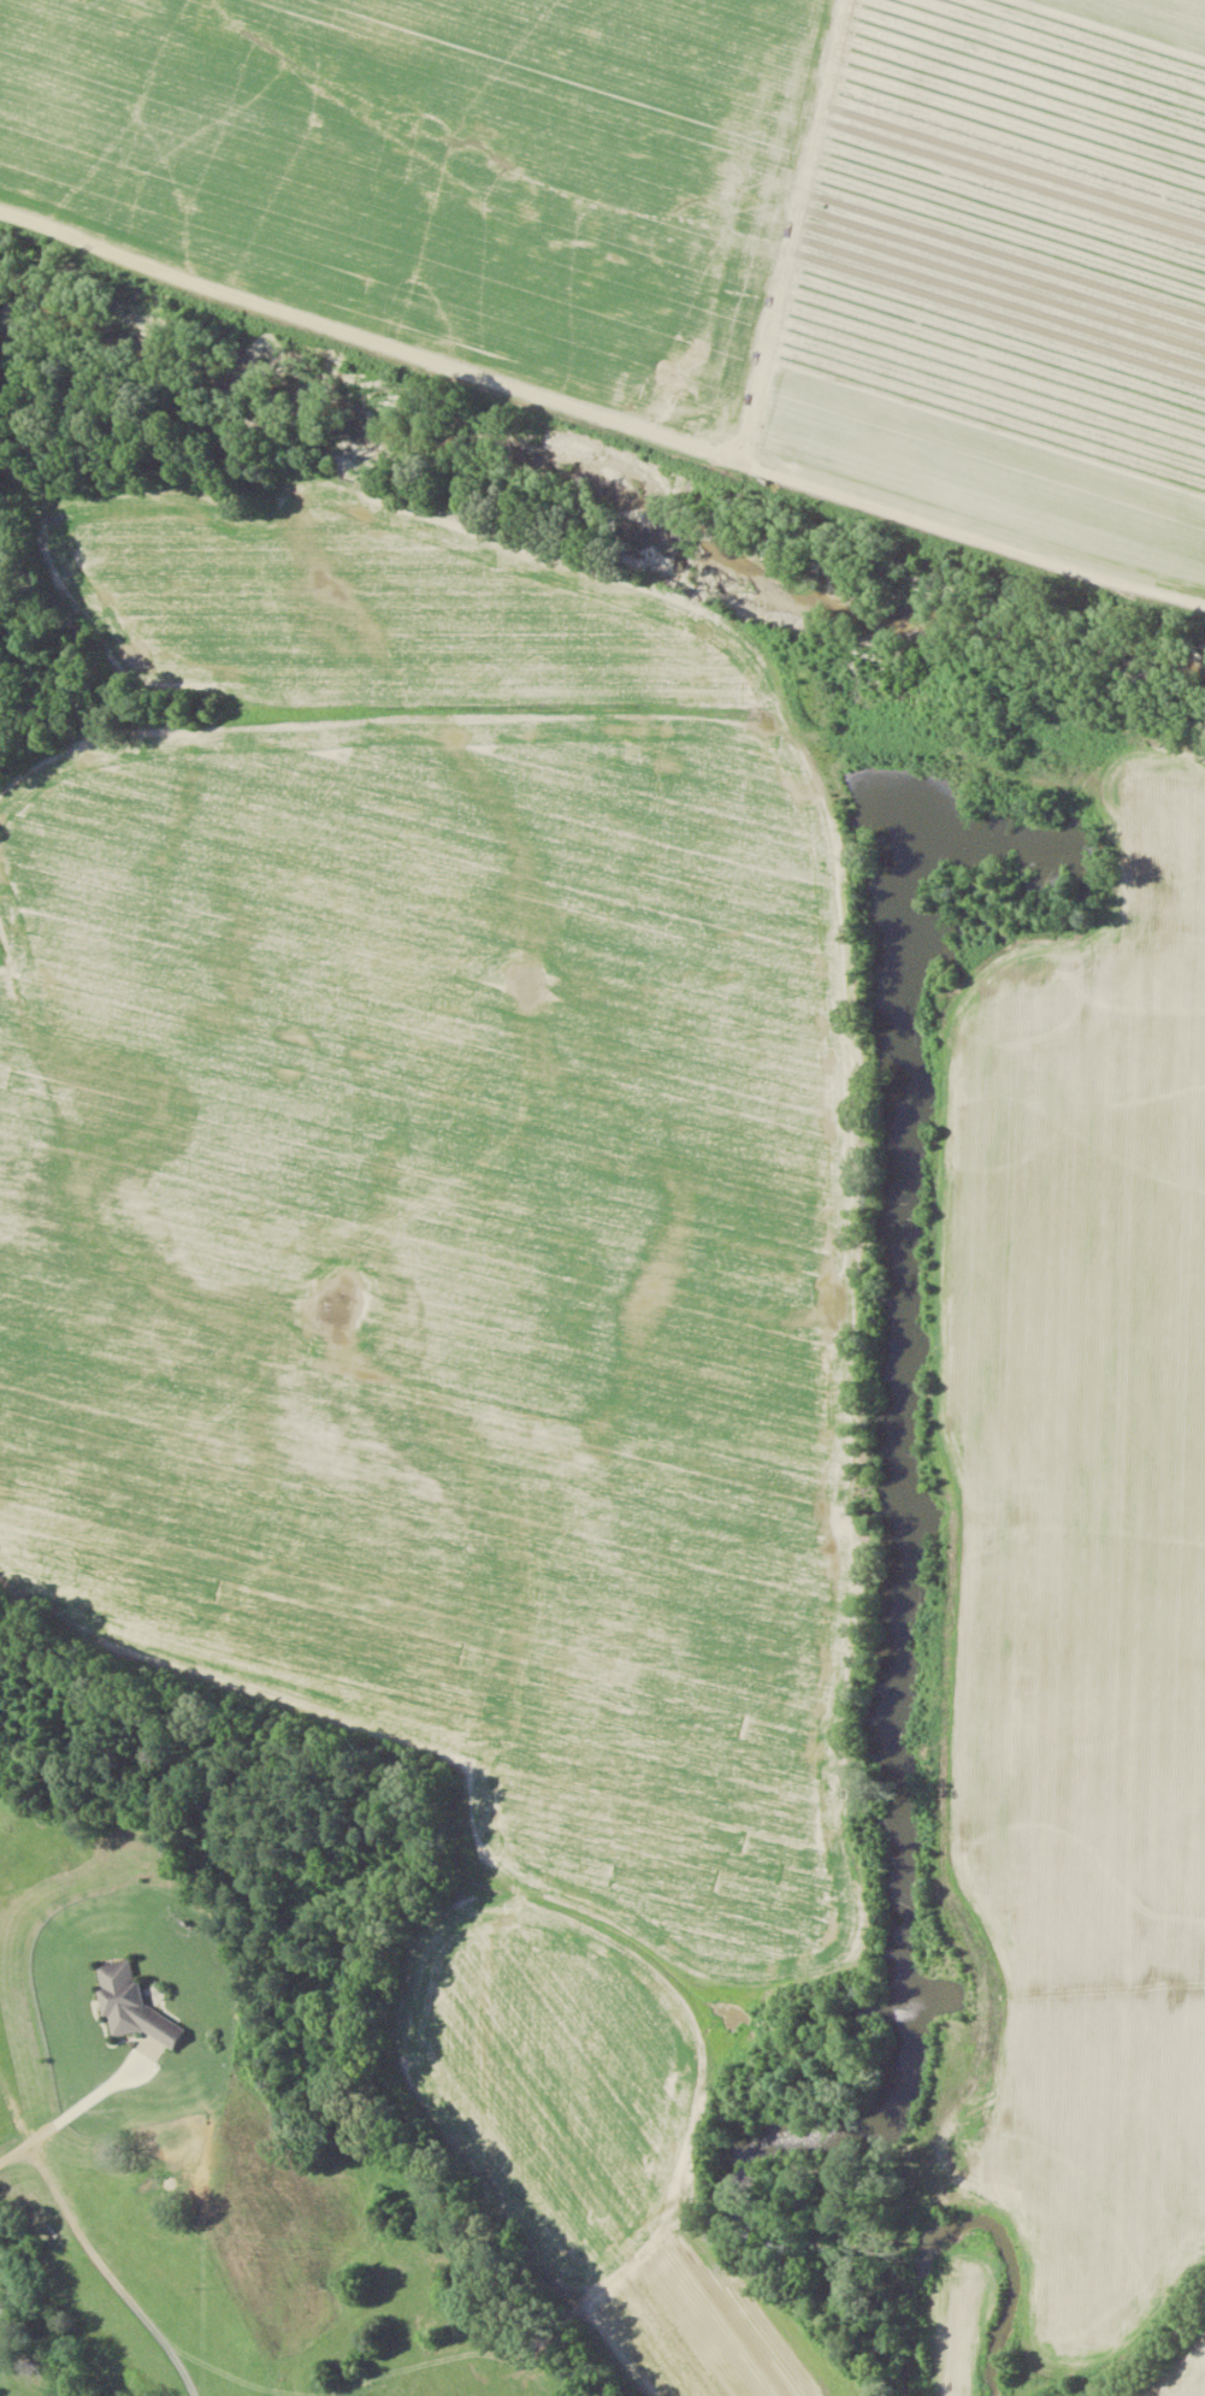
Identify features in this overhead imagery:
building: (126, 2007)

